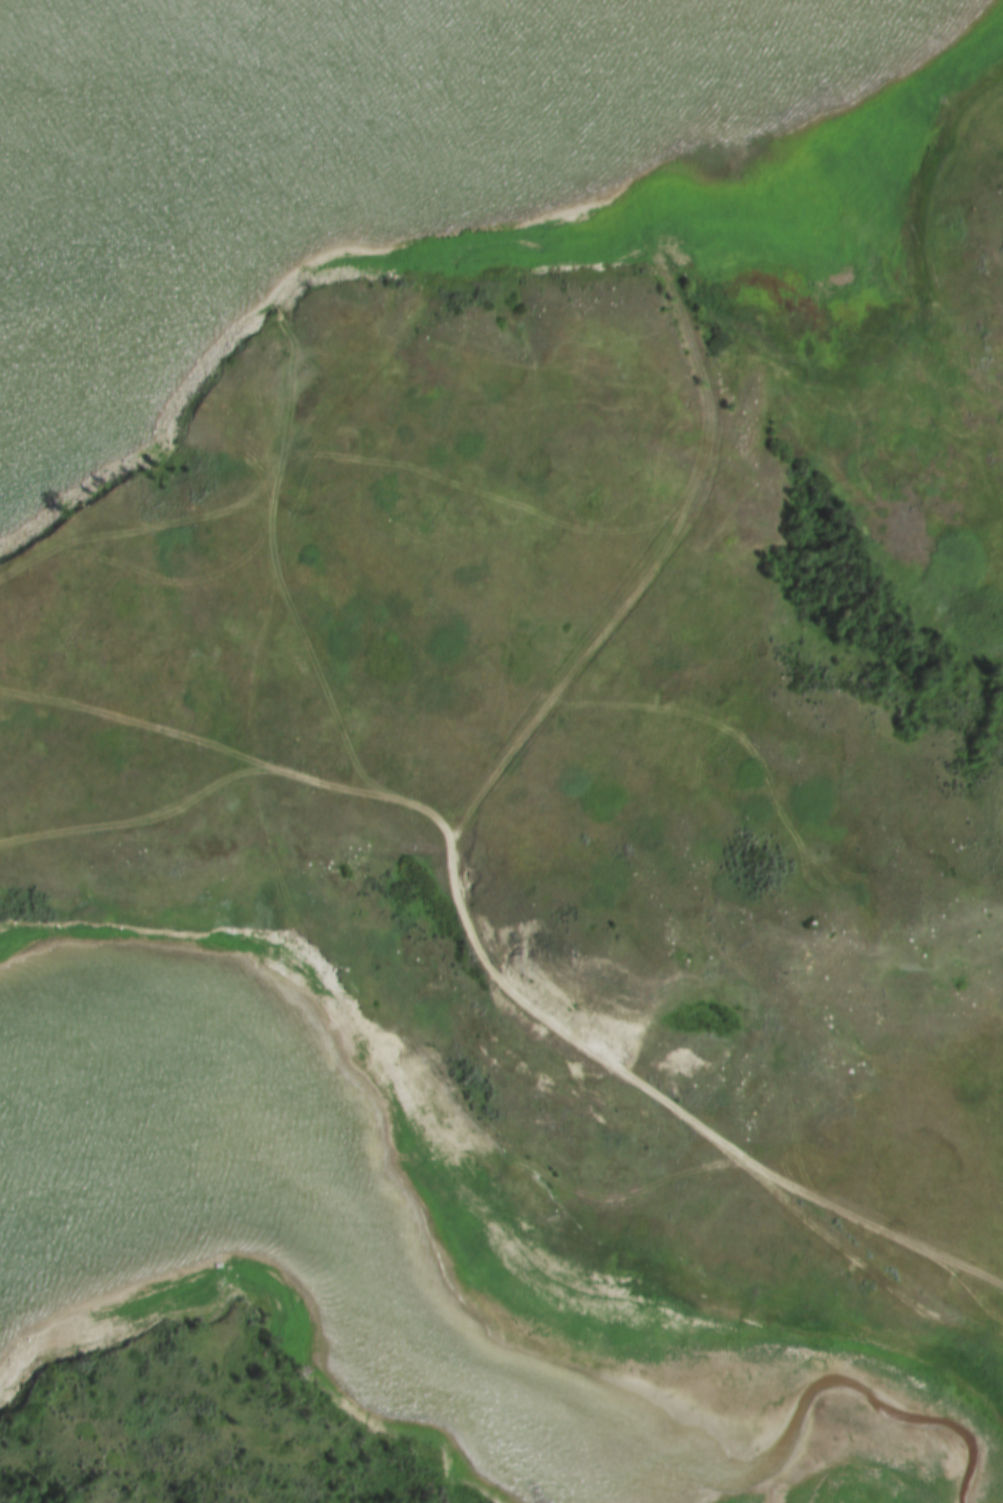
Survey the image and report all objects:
road: (493, 982)

